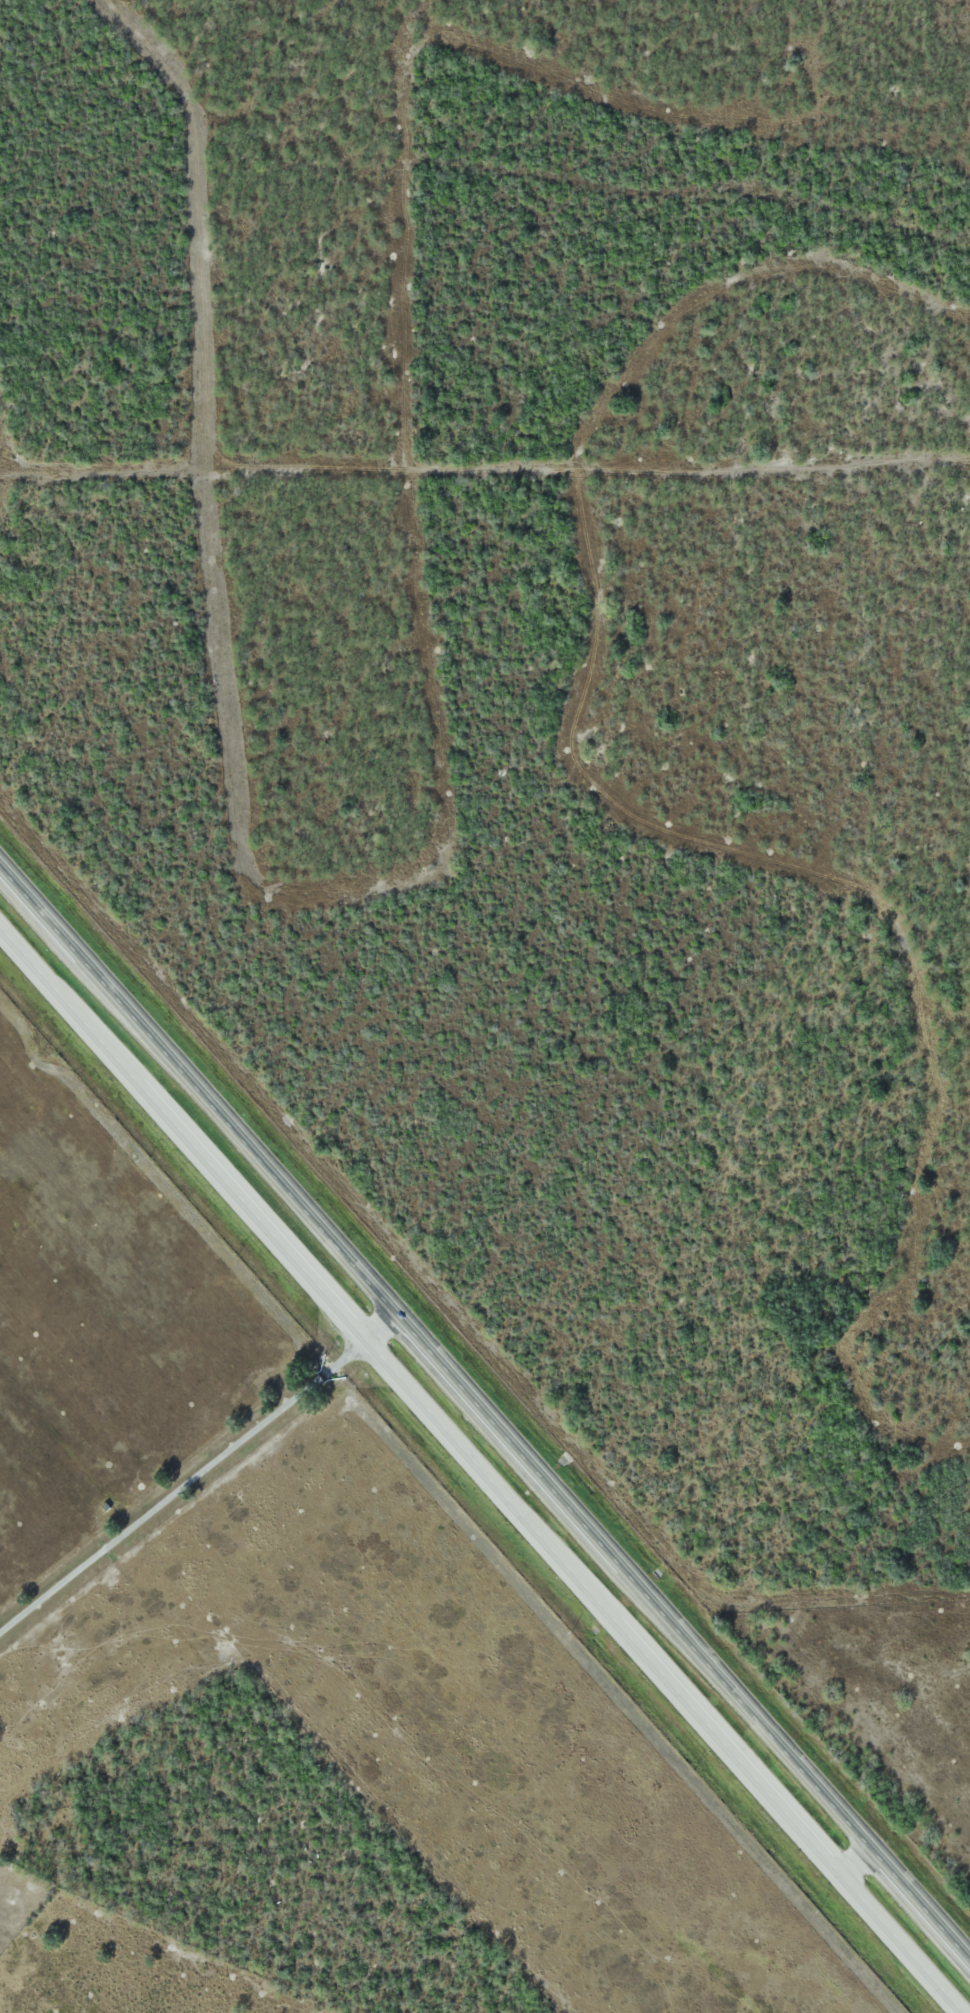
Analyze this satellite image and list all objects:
road: (183, 1134)
road: (383, 1324)
road: (487, 1405)
road: (183, 1487)
road: (666, 1677)
road: (858, 1859)

